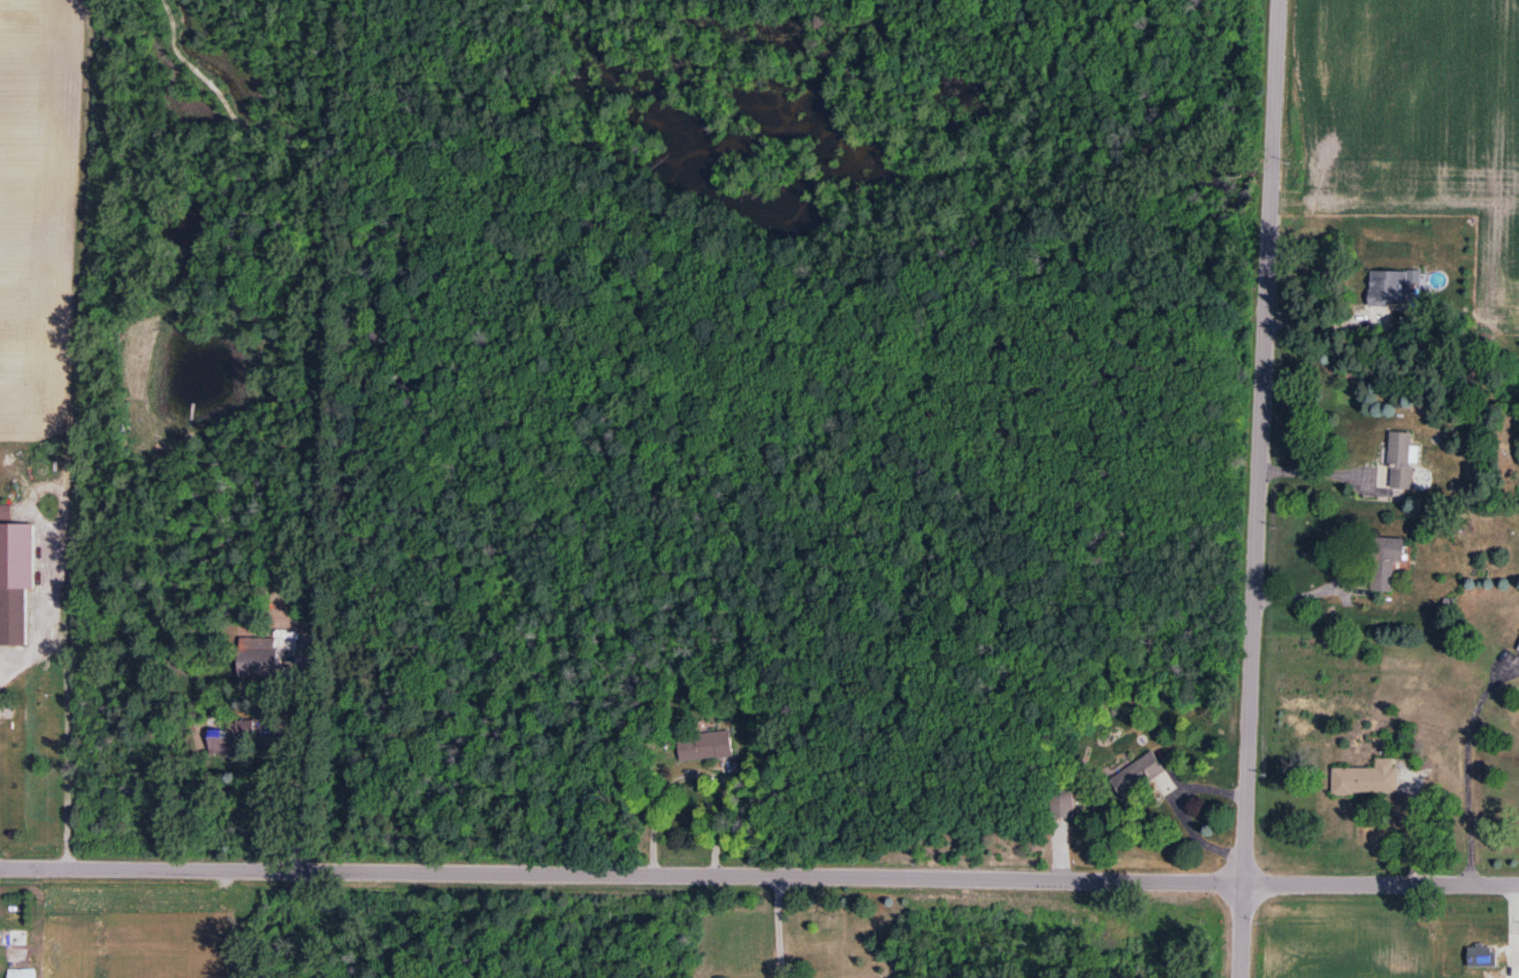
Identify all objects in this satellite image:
building: (1388, 287)
road: (282, 379)
building: (1402, 461)
road: (1255, 488)
building: (1383, 561)
building: (12, 615)
building: (1518, 648)
building: (257, 662)
road: (64, 698)
building: (232, 737)
building: (707, 746)
road: (697, 774)
building: (1137, 776)
building: (1367, 779)
building: (1062, 802)
road: (64, 841)
road: (759, 876)
road: (774, 927)
building: (13, 938)
building: (1483, 957)
building: (1512, 958)
building: (22, 973)

